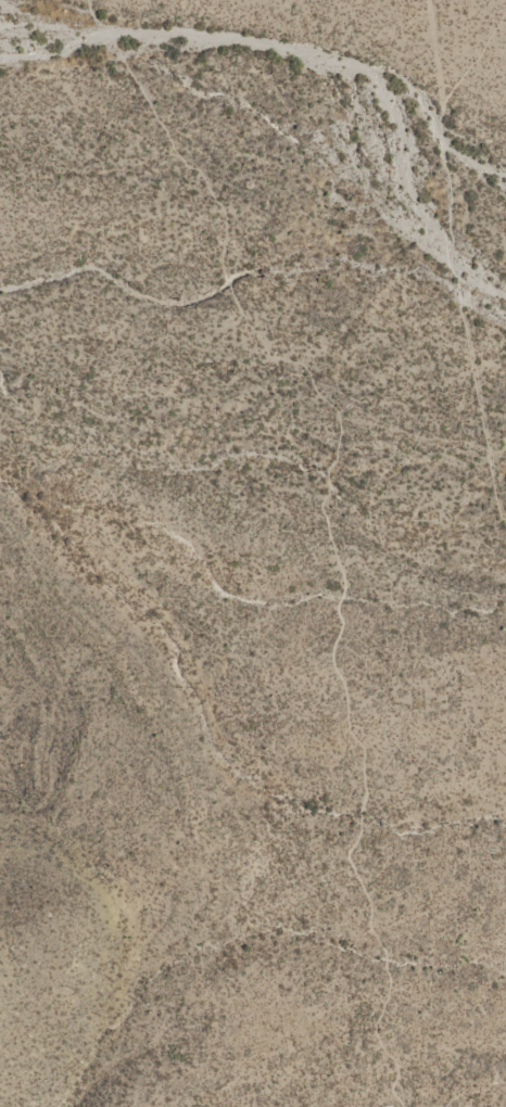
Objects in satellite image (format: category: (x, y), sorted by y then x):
road: (432, 58)
road: (456, 263)
road: (326, 517)

